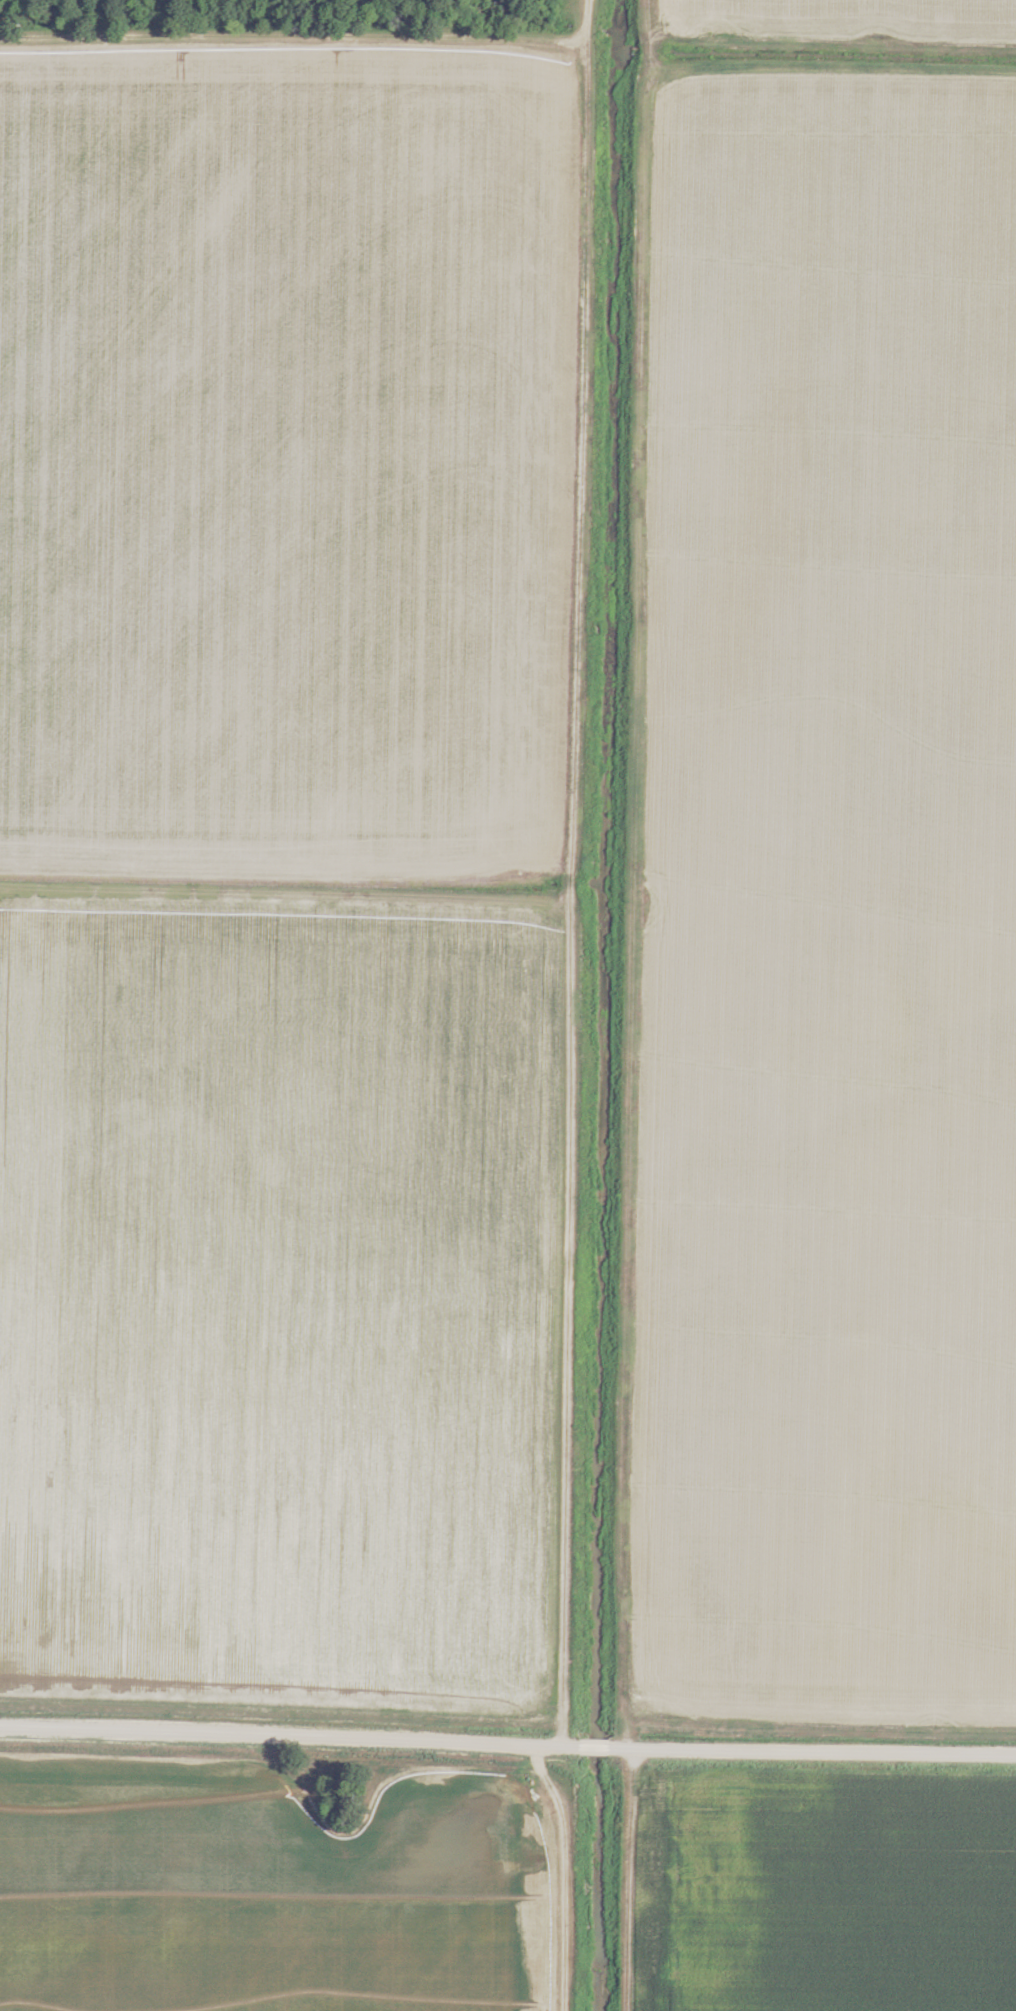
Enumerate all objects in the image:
road: (294, 40)
road: (574, 874)
road: (288, 883)
road: (507, 1746)
road: (570, 1875)

